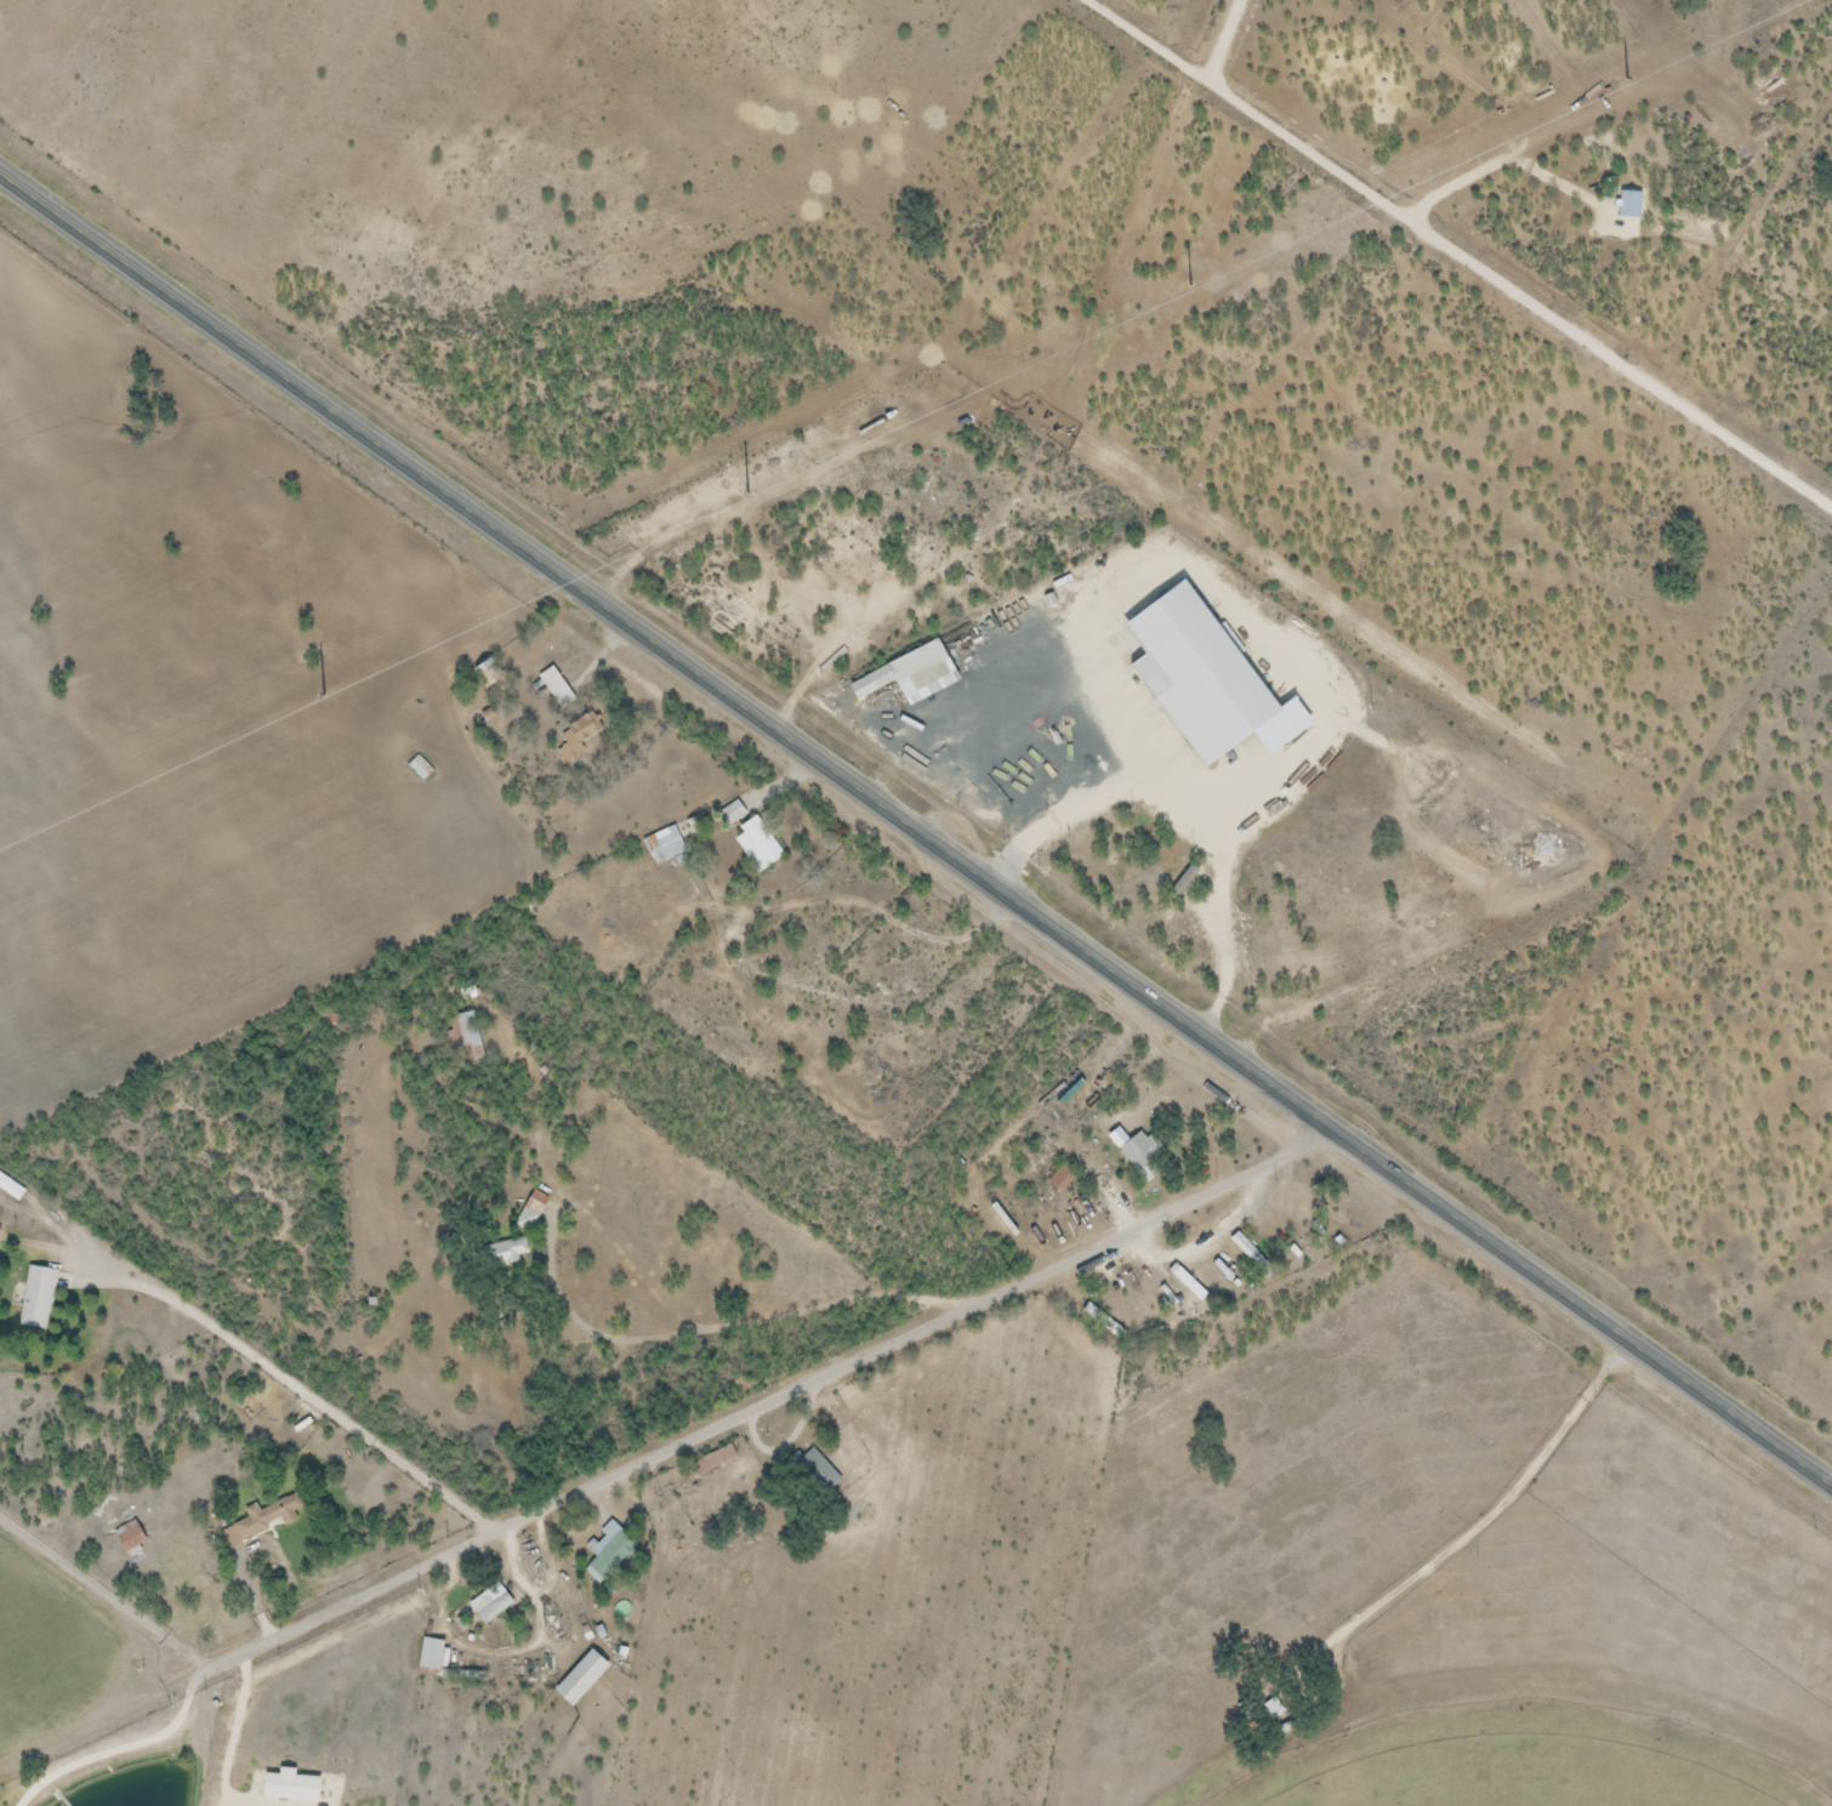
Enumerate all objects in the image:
power tower: (1612, 78)
power tower: (1178, 283)
power tower: (746, 490)
building: (837, 579)
building: (770, 642)
building: (895, 671)
building: (485, 672)
building: (1197, 673)
building: (553, 691)
power tower: (334, 694)
road: (1088, 703)
building: (582, 729)
building: (420, 768)
road: (912, 826)
building: (1131, 831)
building: (757, 844)
building: (664, 845)
building: (1133, 883)
railway: (916, 901)
building: (1444, 925)
road: (1231, 965)
building: (467, 1036)
building: (1140, 1155)
building: (1060, 1178)
building: (10, 1187)
building: (531, 1210)
building: (1235, 1248)
building: (505, 1253)
building: (1187, 1282)
building: (38, 1298)
road: (705, 1326)
road: (774, 1398)
building: (815, 1472)
building: (280, 1516)
building: (130, 1538)
building: (607, 1550)
road: (107, 1588)
building: (490, 1605)
building: (429, 1654)
building: (579, 1679)
building: (1274, 1710)
road: (143, 1741)

